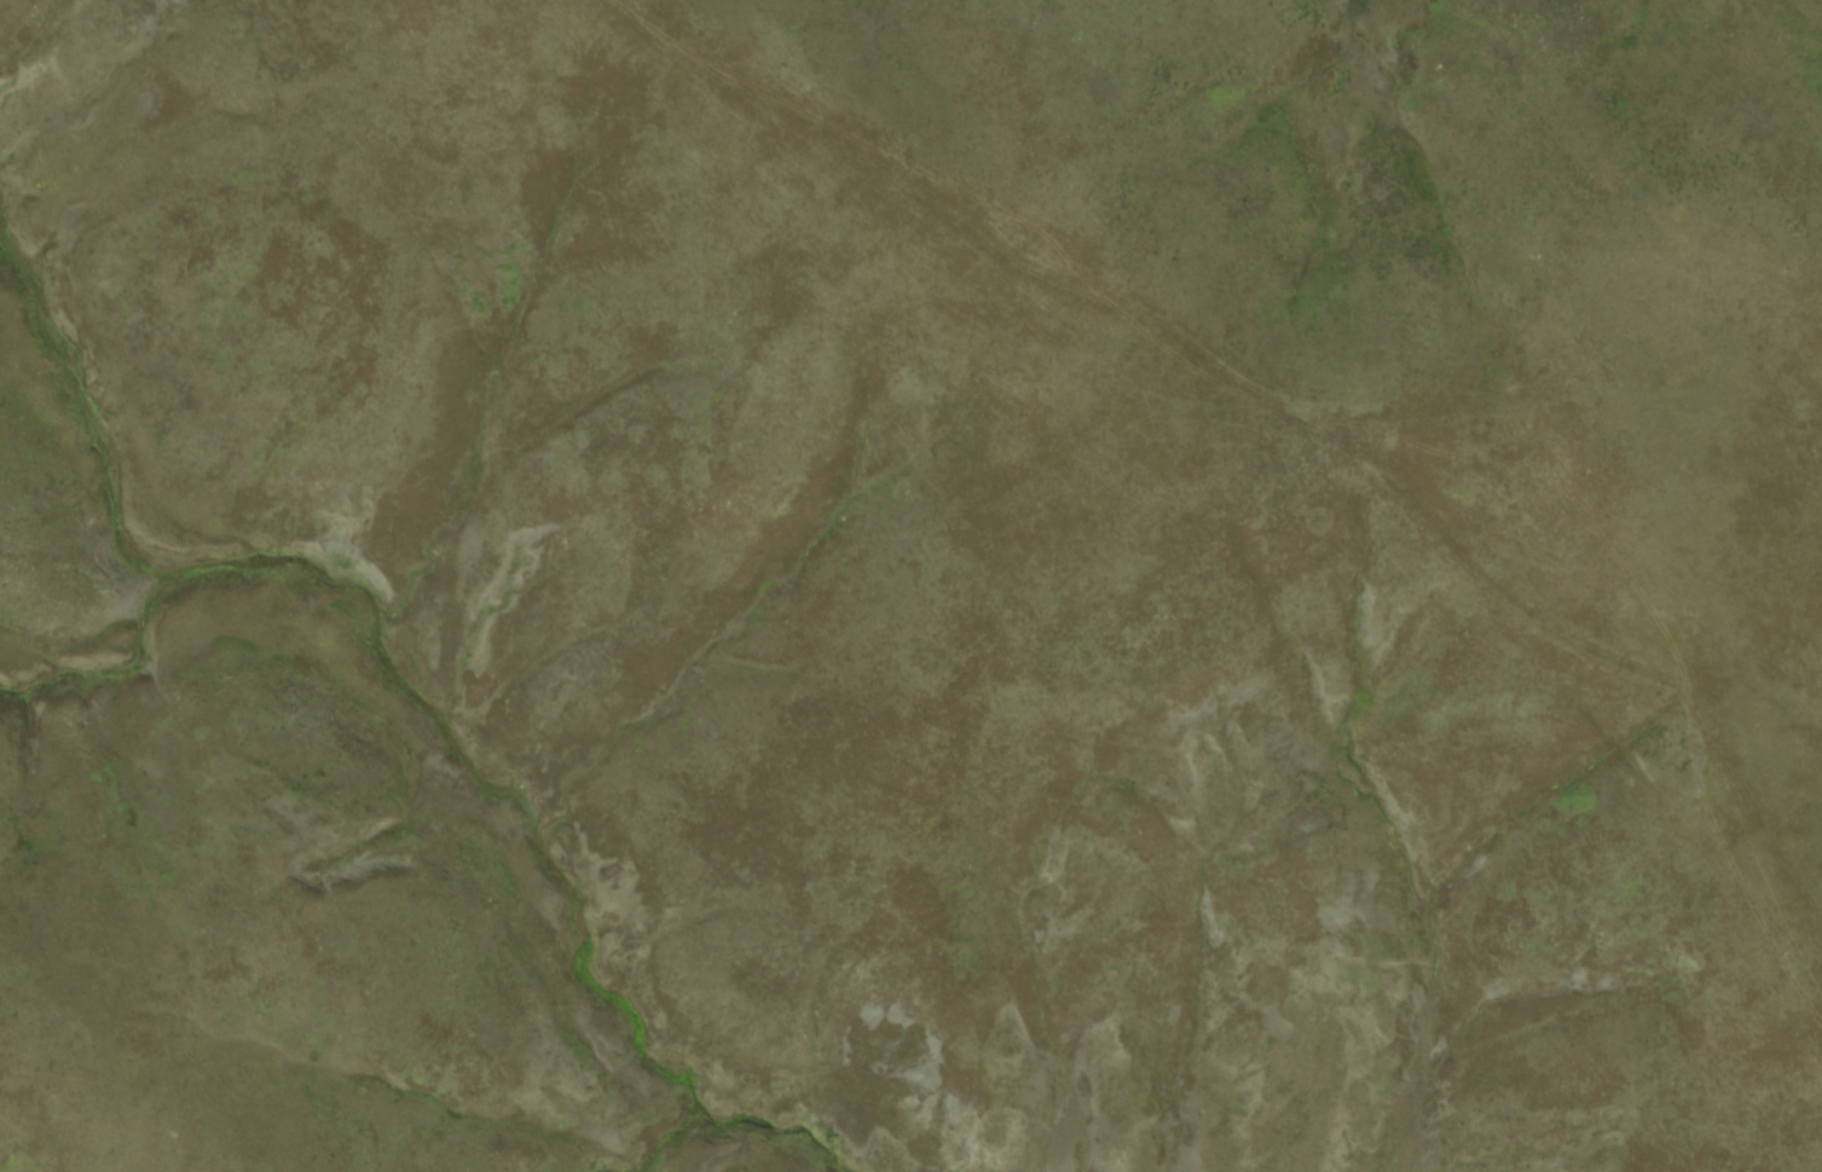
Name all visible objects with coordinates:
road: (1286, 364)

